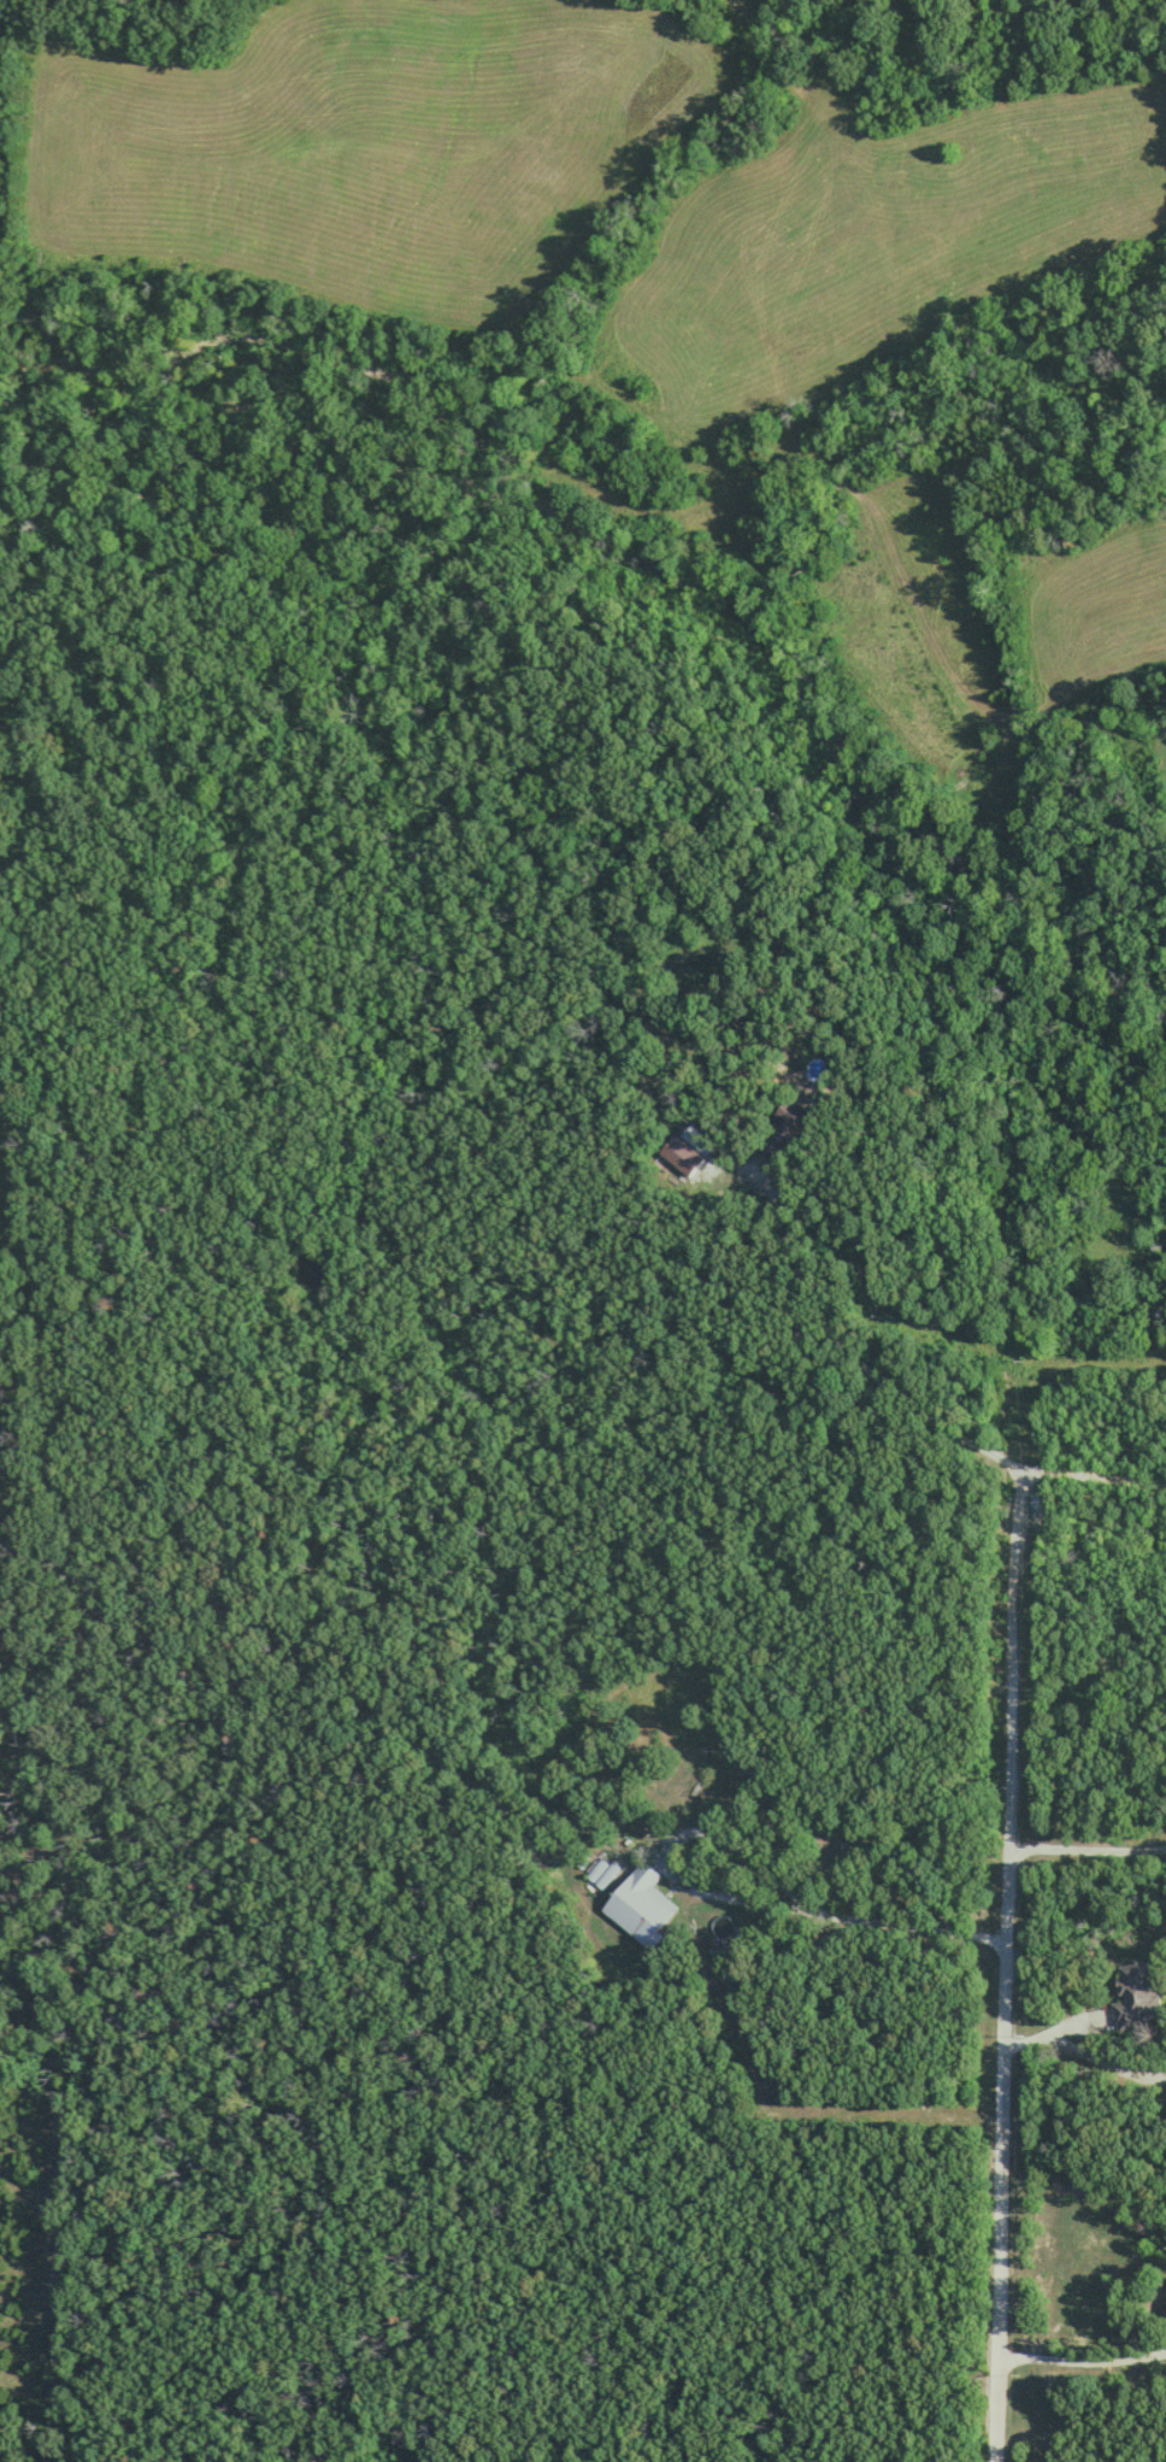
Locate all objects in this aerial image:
building: (781, 1128)
road: (846, 1347)
road: (1094, 1474)
road: (1088, 1846)
building: (602, 1872)
road: (737, 1892)
building: (640, 1904)
road: (1006, 1964)
building: (1137, 1994)
road: (1079, 2356)

